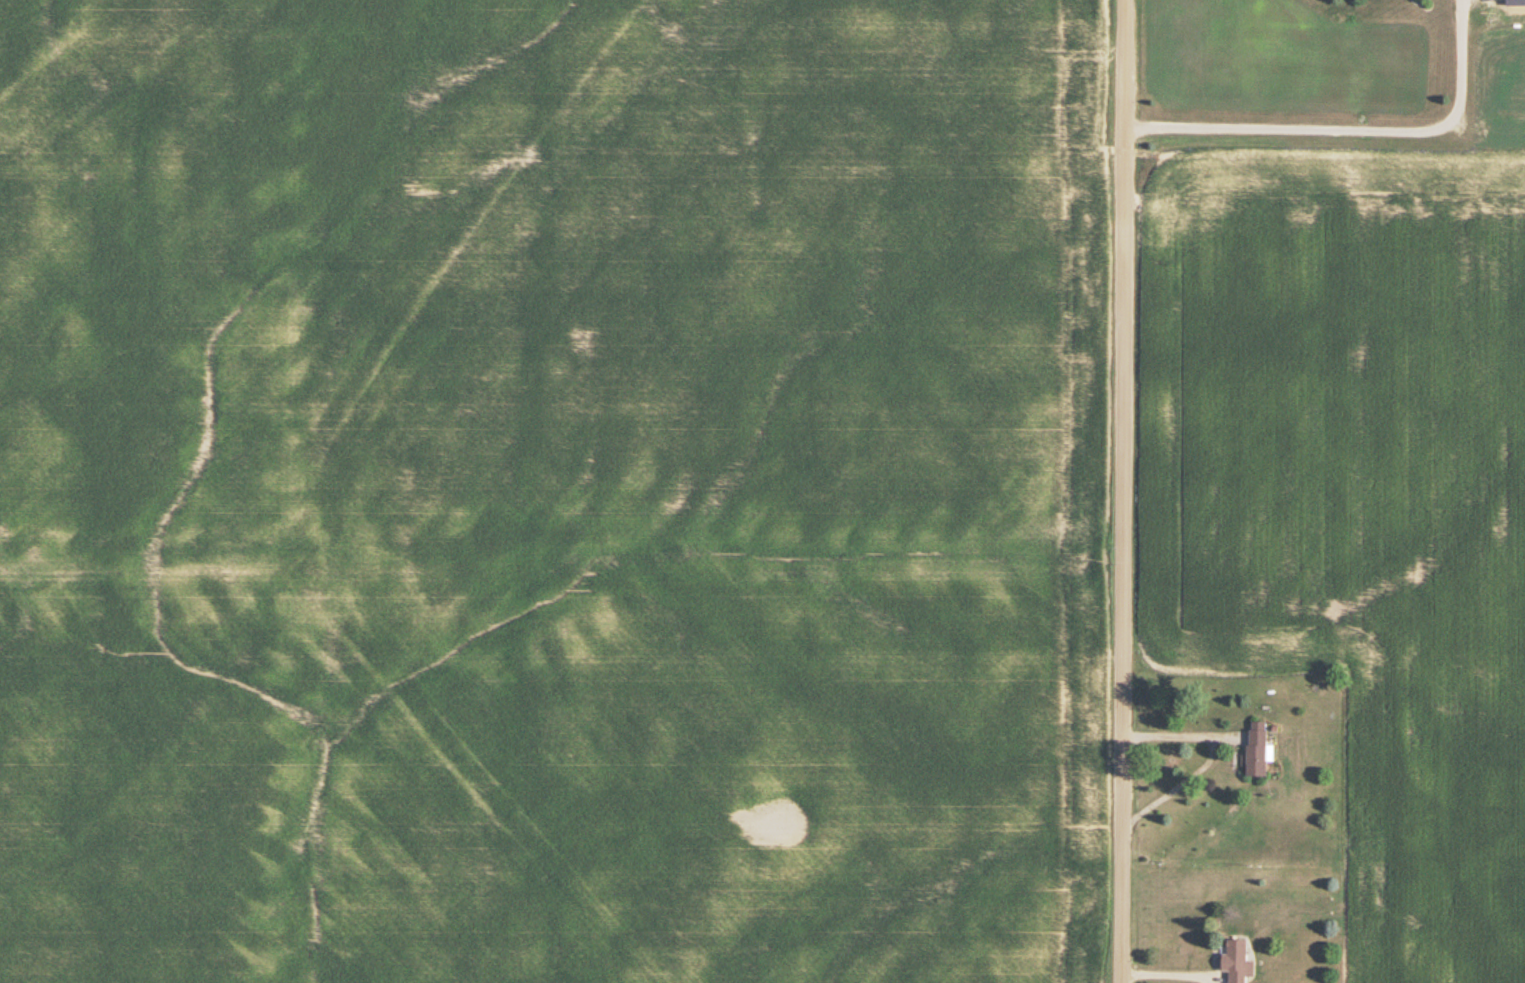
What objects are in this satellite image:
road: (1349, 131)
road: (1119, 491)
road: (1173, 727)
building: (1256, 750)
road: (1176, 779)
building: (1236, 961)
road: (1172, 966)

